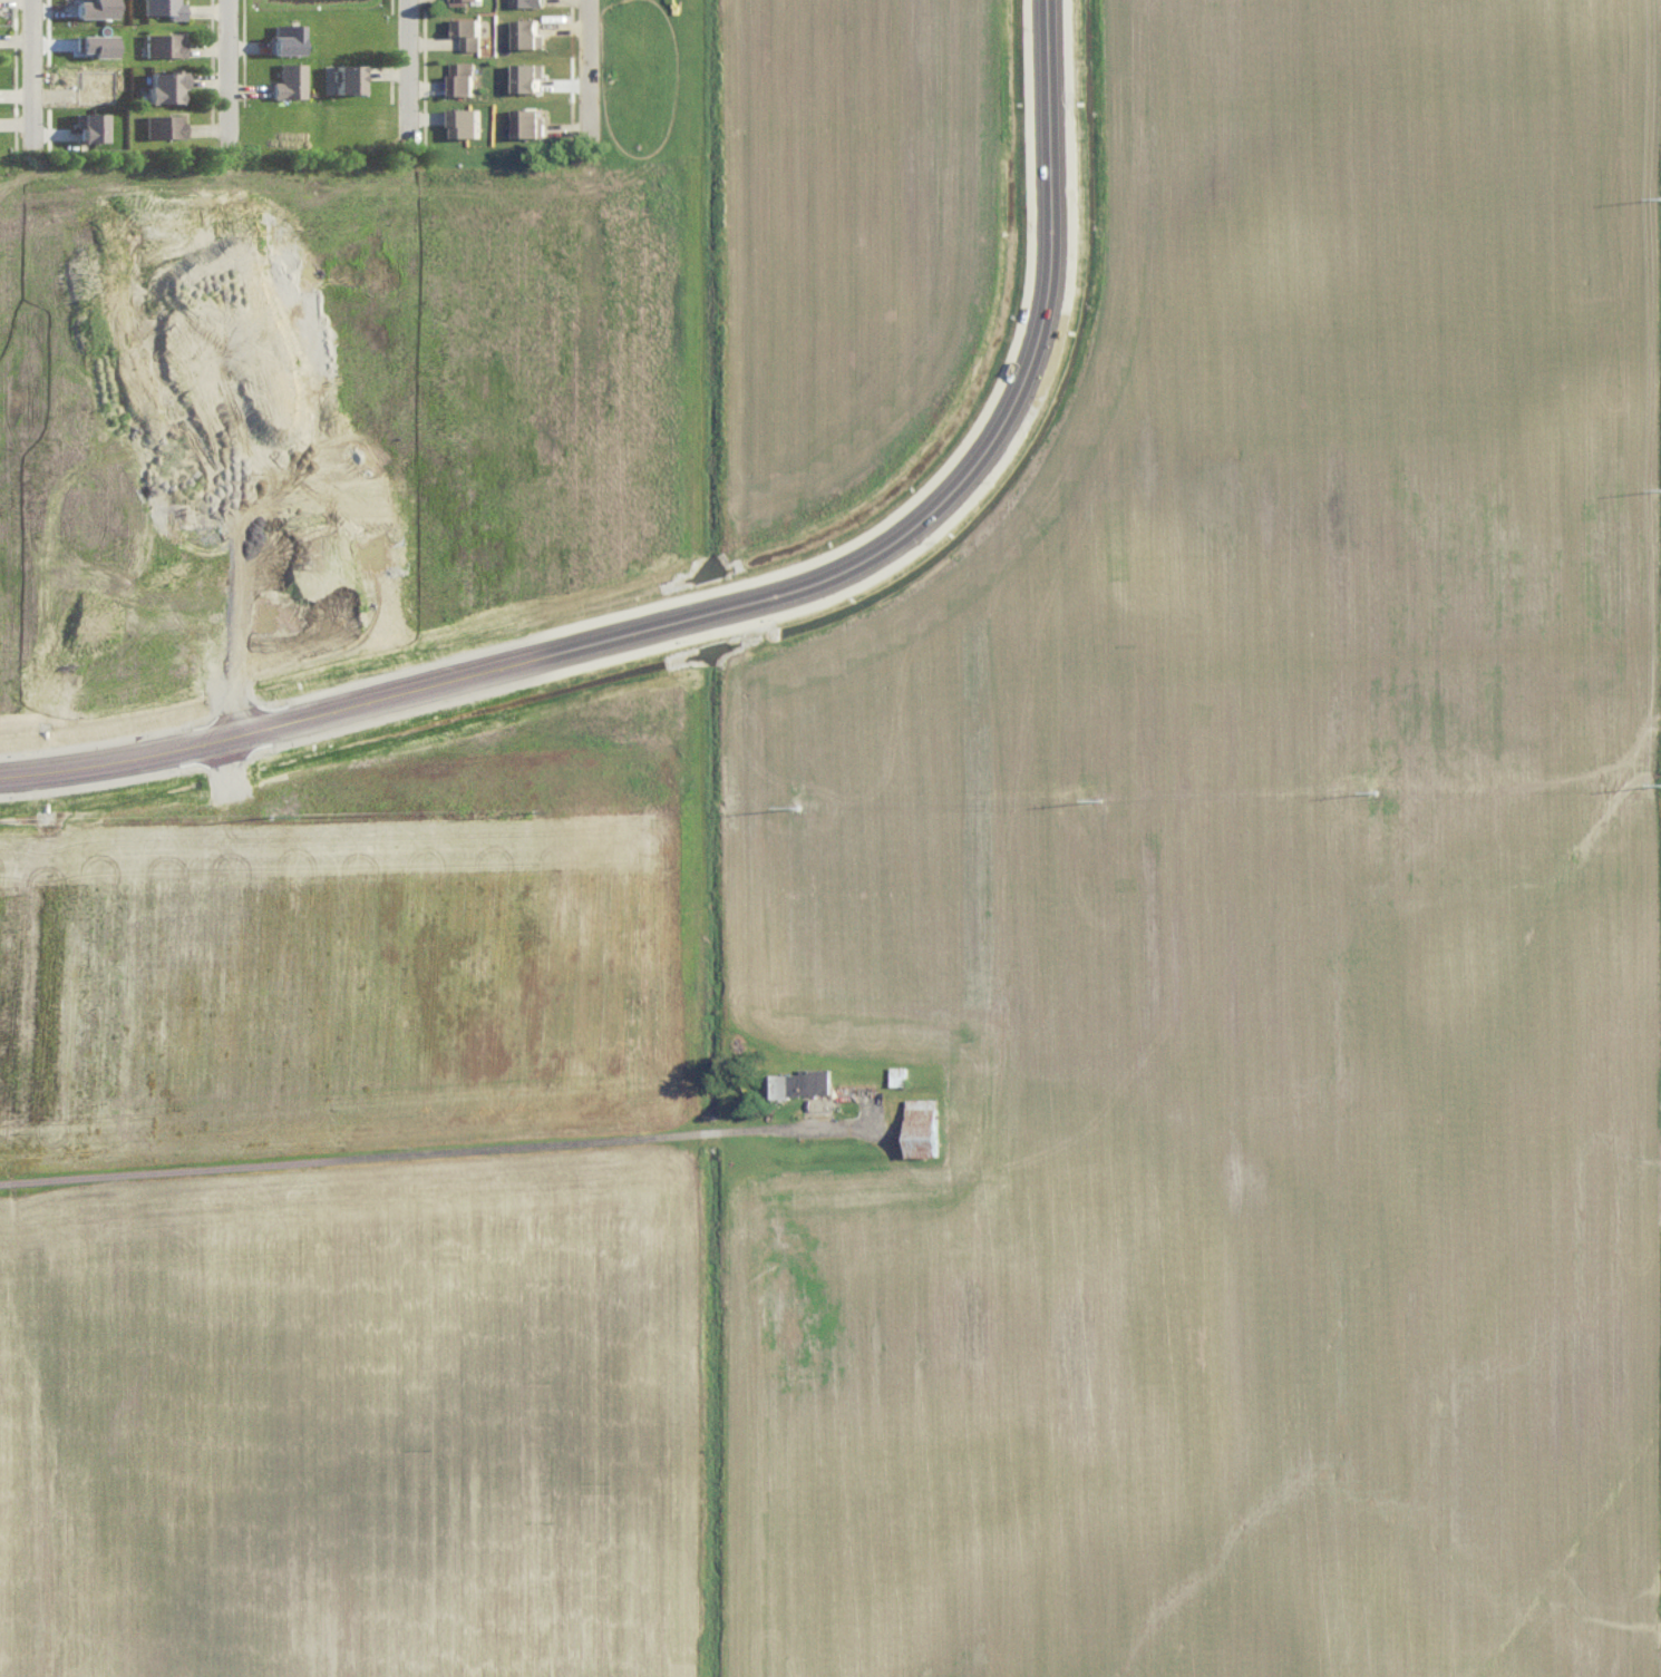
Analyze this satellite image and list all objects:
building: (458, 1)
building: (526, 1)
building: (94, 7)
building: (164, 7)
building: (467, 30)
building: (528, 31)
building: (285, 37)
building: (96, 42)
building: (162, 42)
road: (600, 65)
road: (419, 68)
road: (43, 69)
building: (528, 75)
building: (348, 76)
building: (463, 76)
building: (289, 79)
road: (239, 80)
building: (164, 84)
building: (466, 120)
building: (527, 120)
building: (89, 124)
building: (163, 124)
road: (738, 603)
building: (899, 1073)
building: (800, 1080)
building: (923, 1124)
road: (470, 1149)

